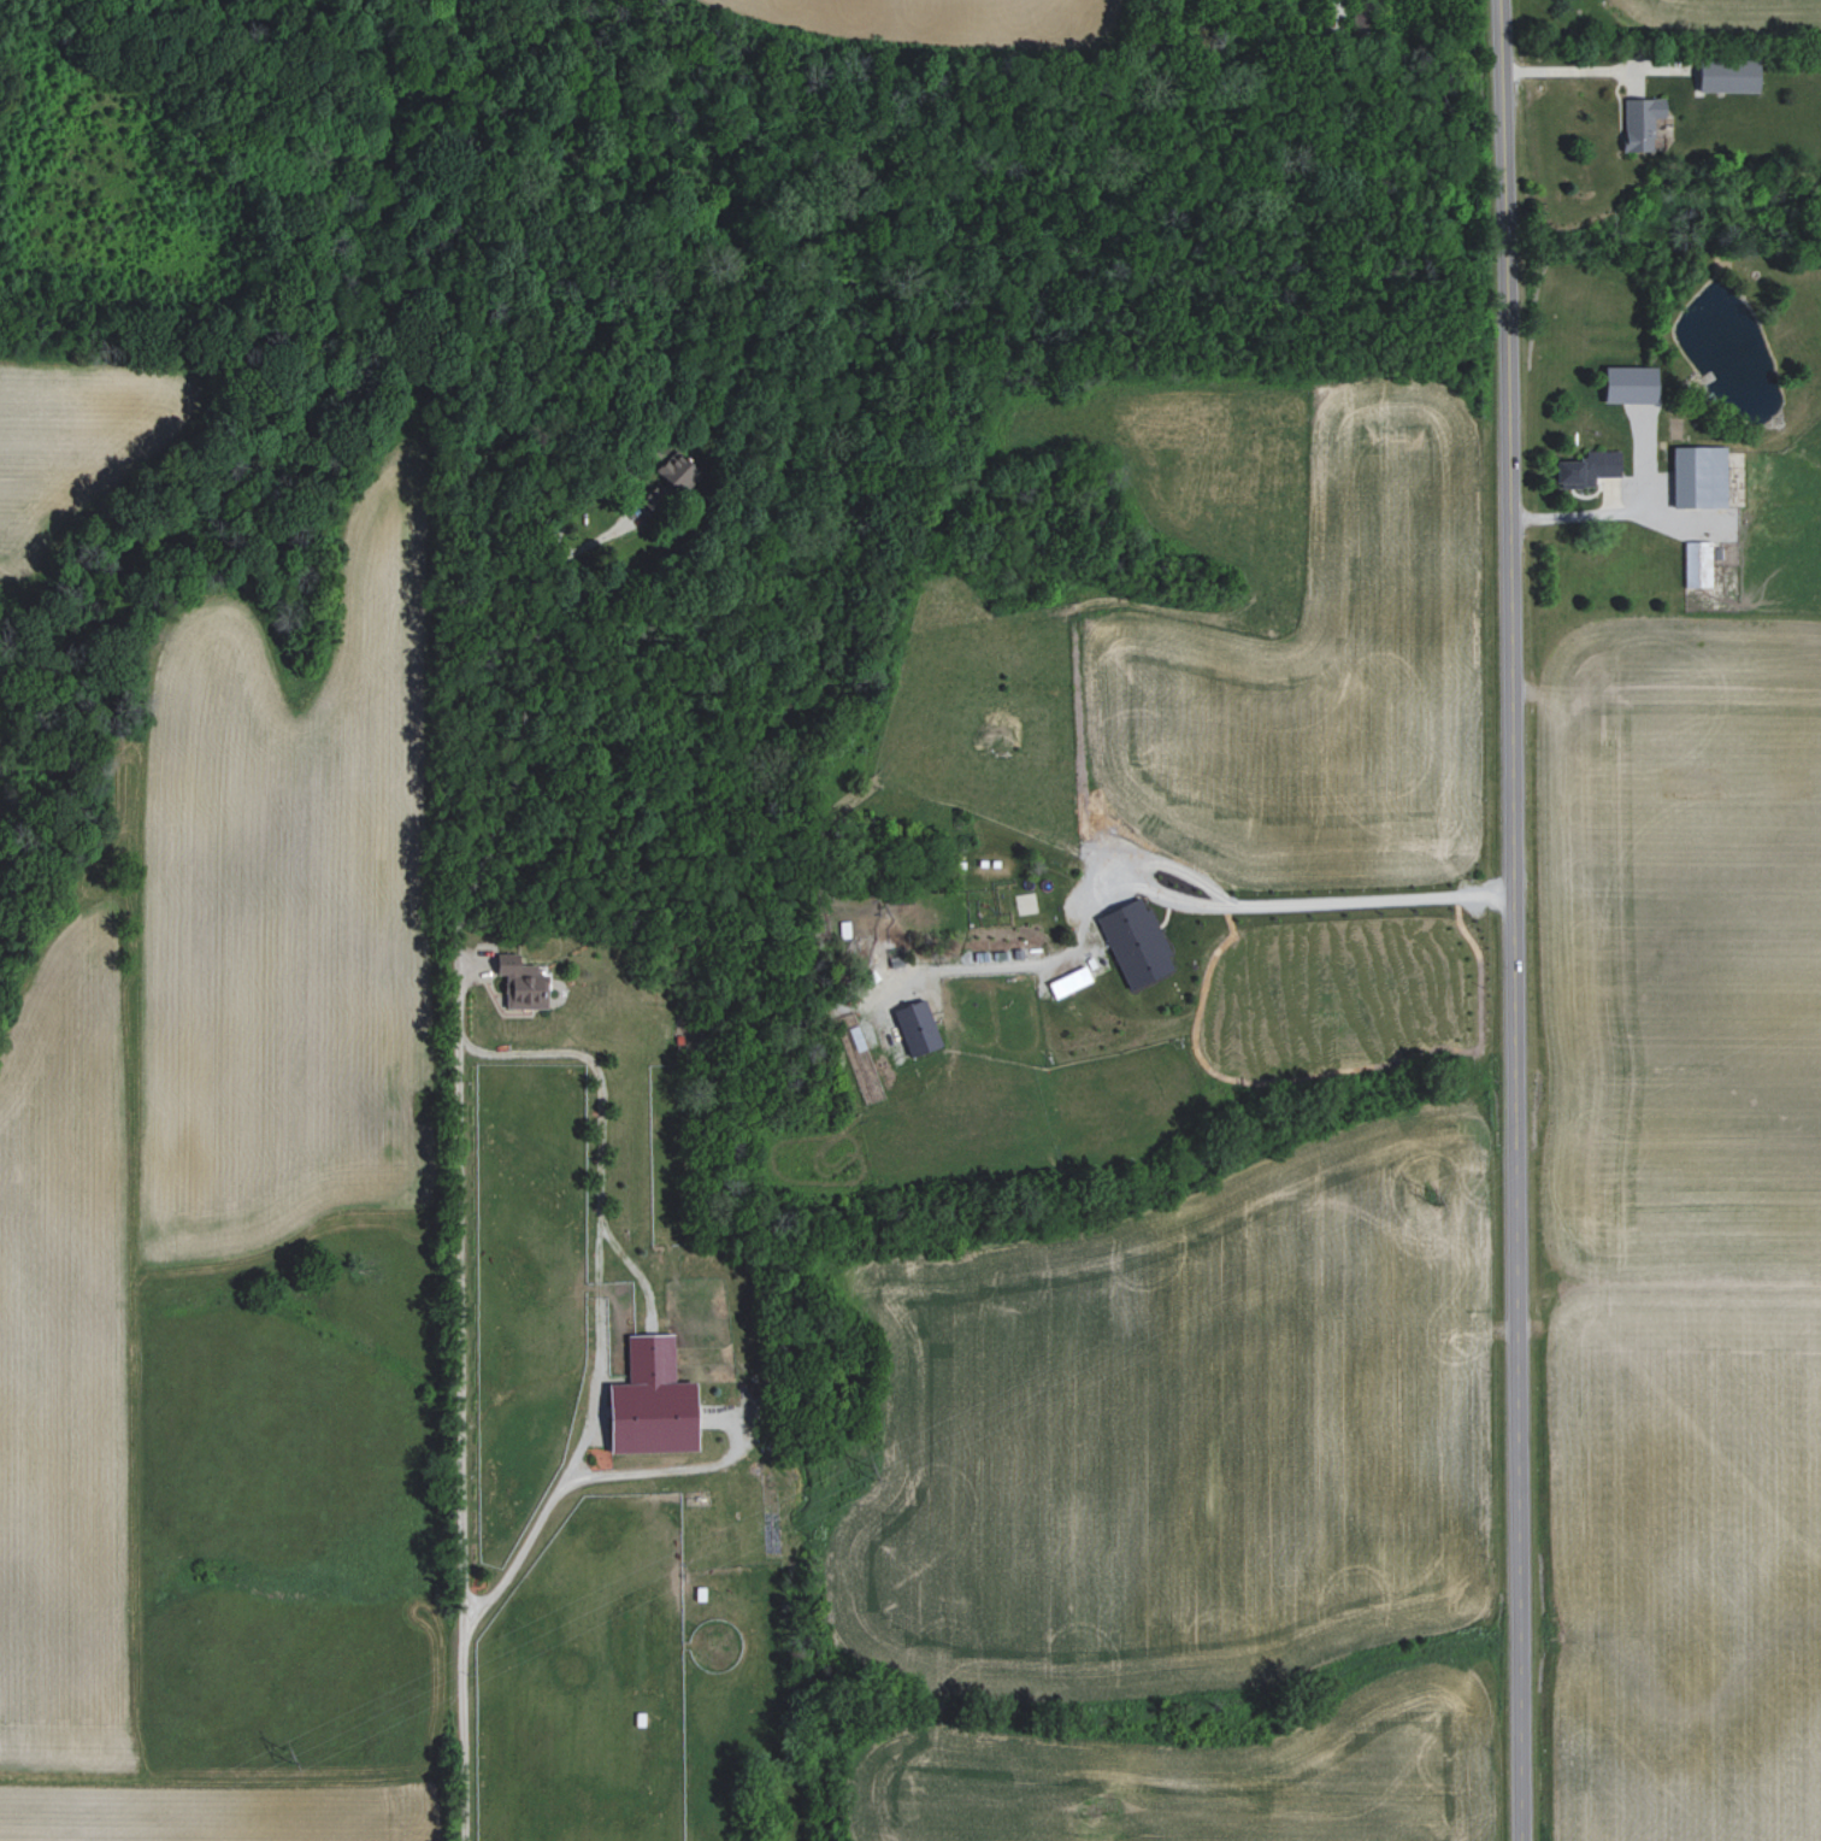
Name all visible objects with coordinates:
road: (1579, 70)
building: (1728, 76)
building: (1642, 122)
building: (1630, 384)
building: (1587, 469)
building: (677, 470)
building: (1699, 477)
road: (1610, 513)
building: (1698, 564)
road: (1167, 895)
road: (1516, 919)
building: (1136, 942)
road: (459, 951)
building: (1069, 982)
building: (917, 1027)
road: (603, 1127)
power tower: (1430, 1199)
building: (652, 1401)
road: (671, 1470)
power tower: (870, 1472)
road: (511, 1569)
power tower: (285, 1755)

